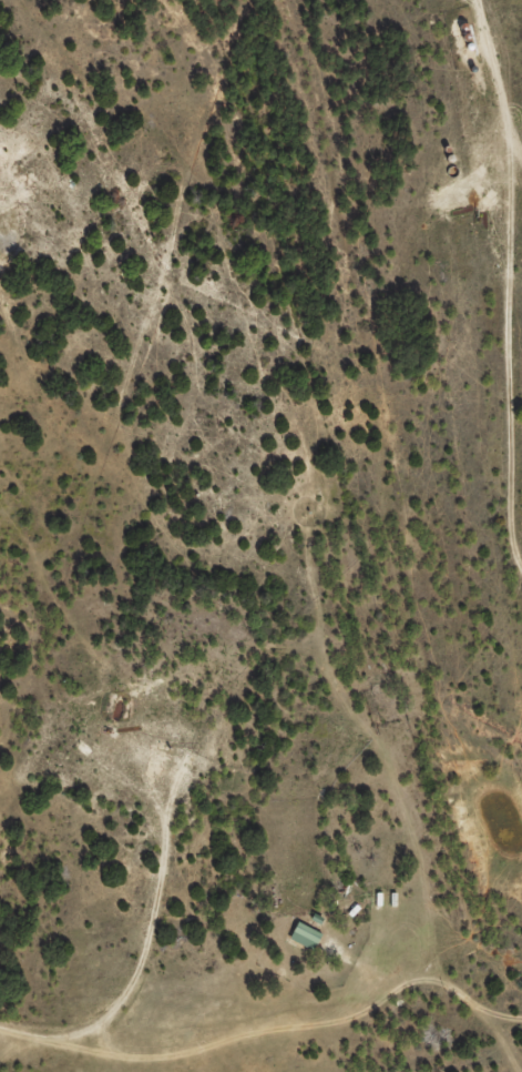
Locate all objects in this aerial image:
road: (509, 282)
building: (307, 945)
road: (268, 1031)

